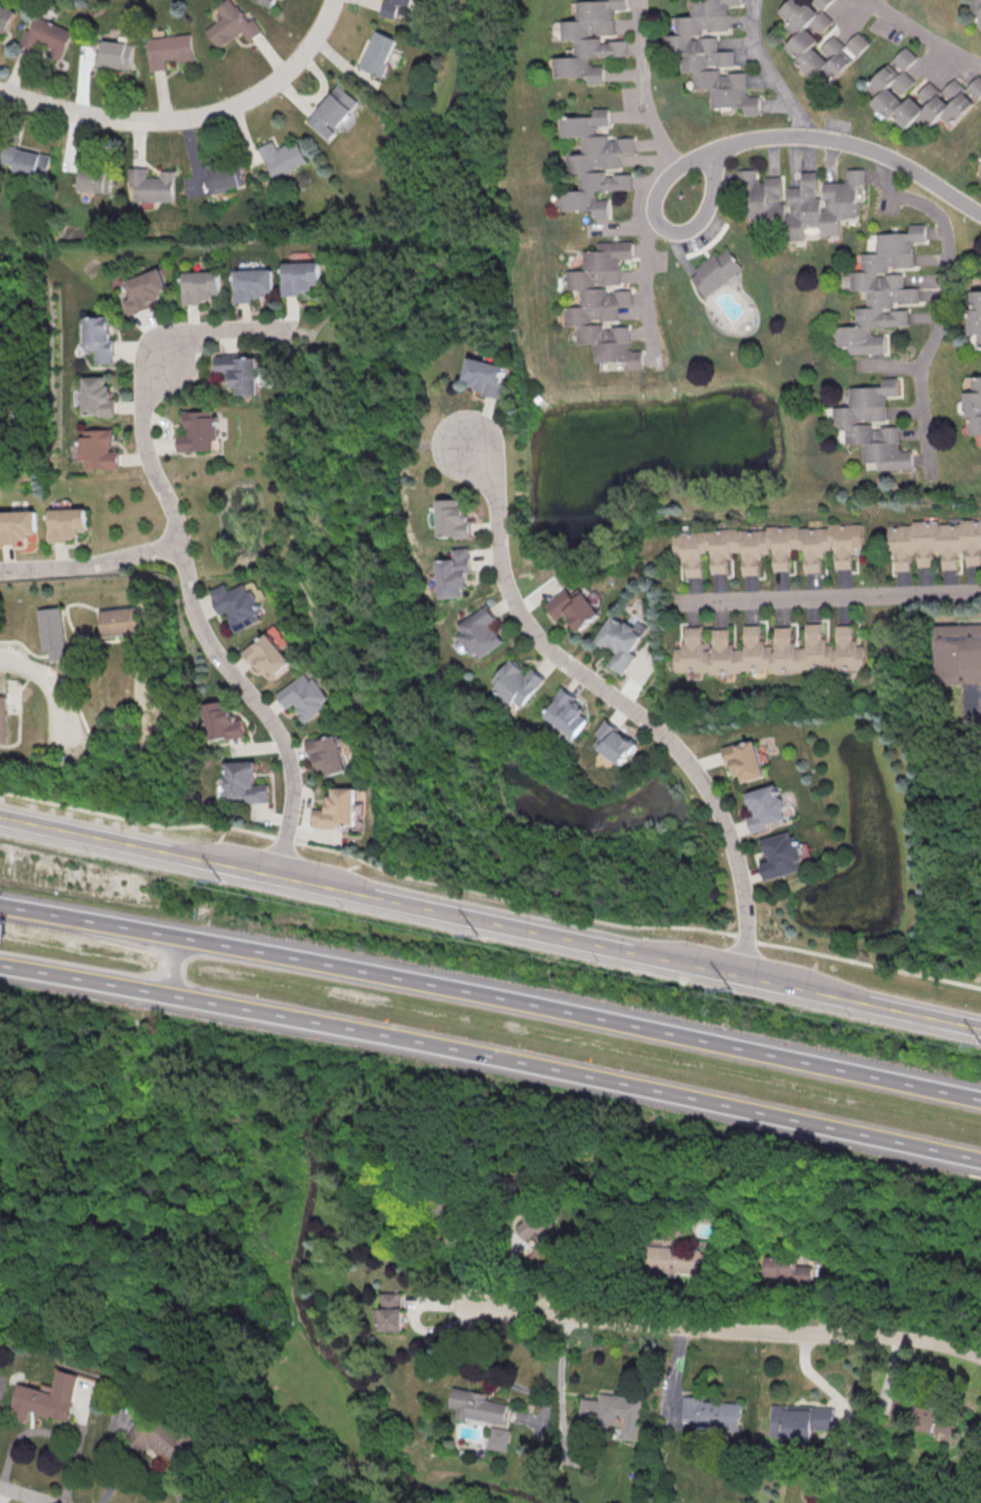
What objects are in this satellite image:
building: (274, 1)
park: (108, 3)
building: (976, 9)
building: (5, 17)
building: (232, 25)
road: (924, 34)
building: (47, 37)
building: (590, 40)
building: (819, 40)
building: (379, 52)
building: (116, 53)
building: (709, 54)
road: (769, 71)
building: (918, 95)
road: (647, 102)
road: (190, 118)
road: (830, 141)
building: (283, 158)
building: (25, 160)
building: (594, 162)
building: (225, 176)
building: (92, 180)
building: (150, 185)
building: (761, 194)
building: (823, 201)
road: (643, 256)
road: (432, 265)
building: (716, 273)
building: (300, 277)
building: (251, 284)
building: (199, 286)
building: (881, 290)
building: (143, 291)
road: (945, 300)
building: (601, 303)
building: (975, 317)
road: (306, 332)
building: (96, 337)
building: (241, 372)
building: (487, 376)
building: (95, 397)
building: (2, 406)
building: (973, 406)
road: (286, 424)
building: (852, 424)
building: (200, 431)
road: (444, 444)
building: (97, 450)
building: (453, 519)
building: (67, 523)
building: (17, 526)
building: (934, 544)
building: (762, 547)
road: (181, 555)
road: (90, 563)
building: (454, 573)
road: (829, 597)
building: (238, 604)
building: (573, 607)
road: (360, 619)
building: (121, 621)
building: (479, 632)
building: (54, 633)
building: (622, 639)
building: (766, 652)
building: (267, 655)
road: (418, 658)
building: (961, 667)
building: (517, 683)
road: (53, 687)
building: (306, 696)
road: (622, 703)
building: (567, 712)
building: (4, 719)
building: (220, 722)
building: (613, 742)
building: (328, 754)
building: (744, 760)
building: (243, 783)
building: (766, 807)
building: (338, 810)
road: (204, 824)
building: (781, 855)
road: (228, 867)
power tower: (216, 879)
road: (521, 902)
road: (474, 921)
power tower: (470, 935)
road: (187, 939)
road: (810, 950)
road: (168, 965)
road: (737, 976)
road: (410, 982)
power tower: (723, 987)
road: (176, 995)
road: (380, 1035)
power tower: (975, 1043)
road: (713, 1045)
road: (694, 1102)
road: (486, 1207)
building: (668, 1260)
building: (777, 1266)
building: (390, 1312)
road: (729, 1329)
road: (556, 1383)
building: (47, 1399)
building: (477, 1407)
building: (610, 1413)
building: (710, 1413)
building: (929, 1416)
building: (797, 1422)
building: (164, 1437)
building: (498, 1439)
road: (133, 1460)
road: (23, 1495)

